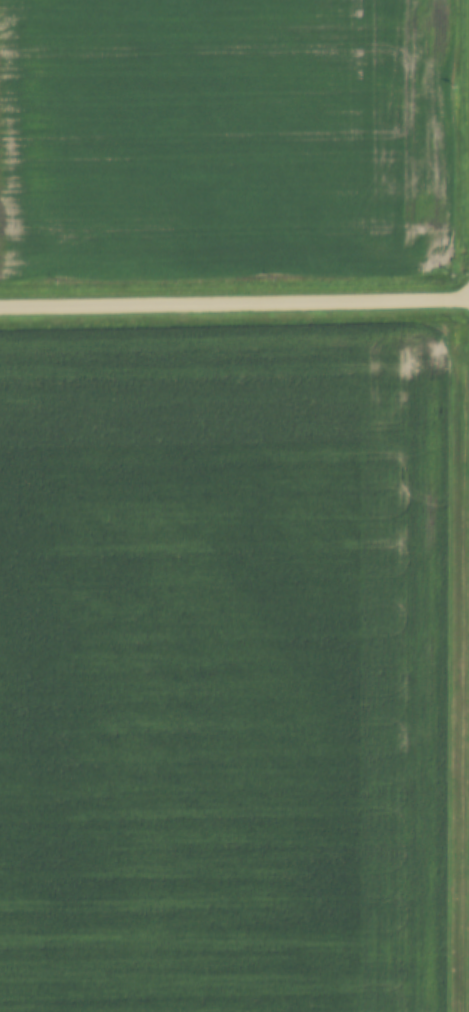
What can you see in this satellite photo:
road: (234, 307)

